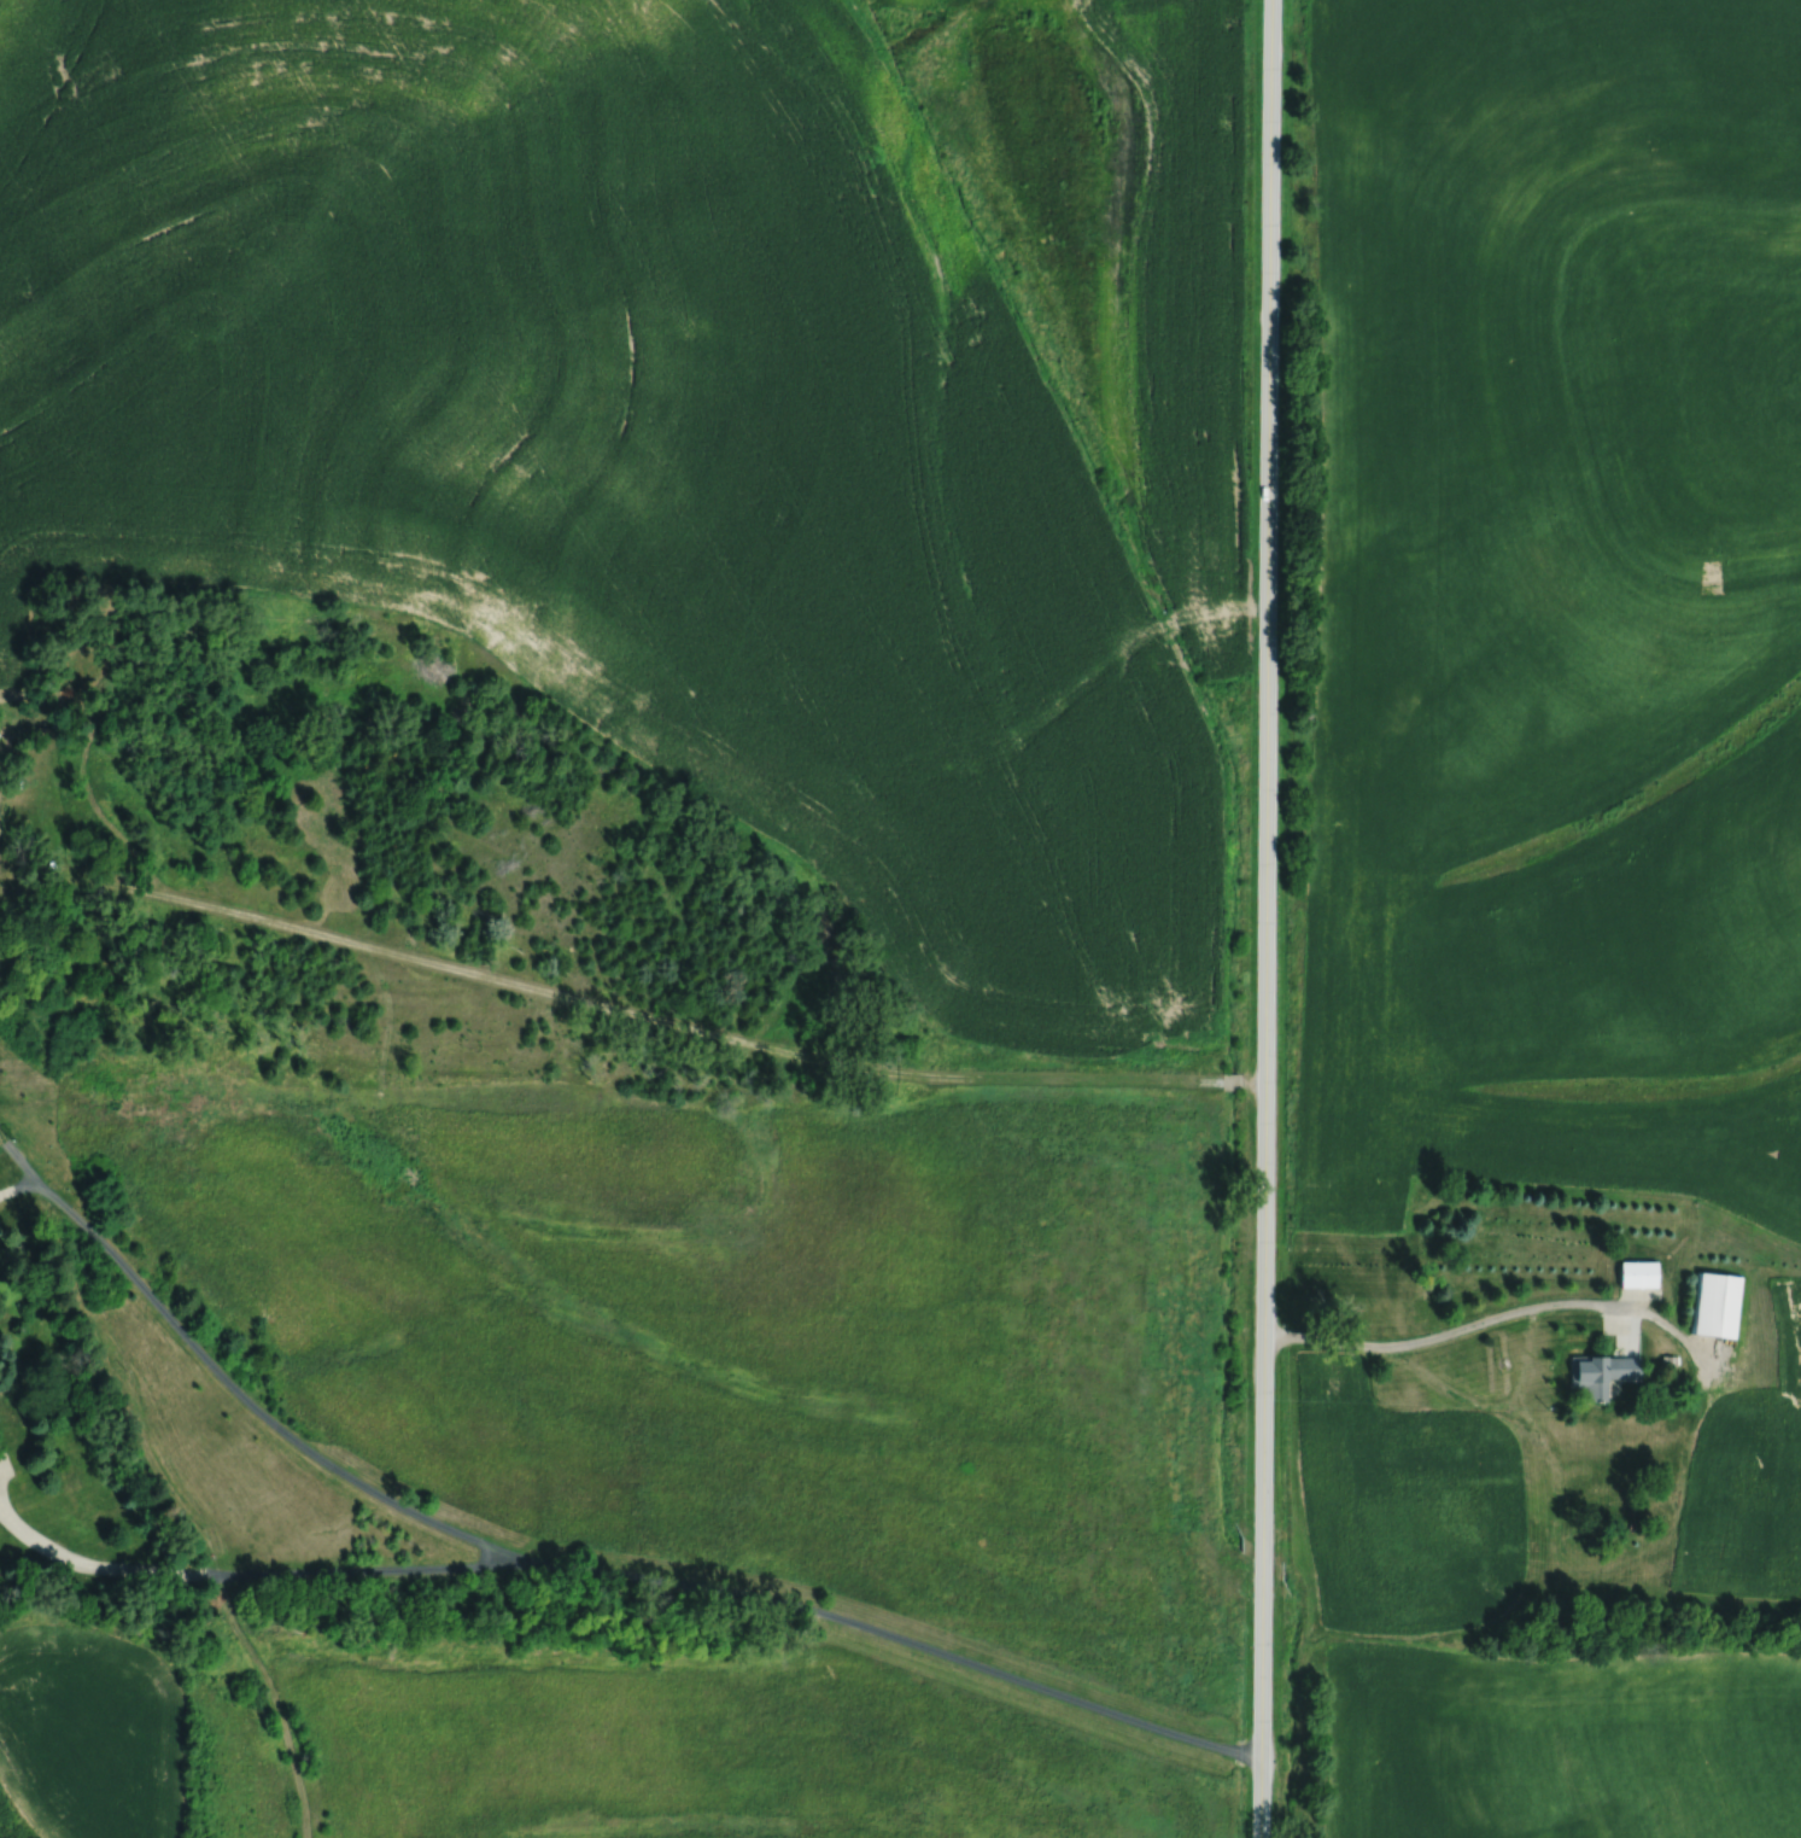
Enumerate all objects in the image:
road: (5, 735)
road: (1264, 918)
road: (607, 1005)
road: (1230, 1080)
road: (1252, 1080)
road: (1, 1139)
road: (16, 1185)
building: (1637, 1273)
building: (1714, 1303)
road: (1495, 1315)
building: (1666, 1360)
building: (1601, 1371)
building: (1423, 1440)
road: (4, 1463)
building: (1578, 1552)
road: (92, 1564)
road: (566, 1566)
road: (361, 1568)
road: (275, 1700)

